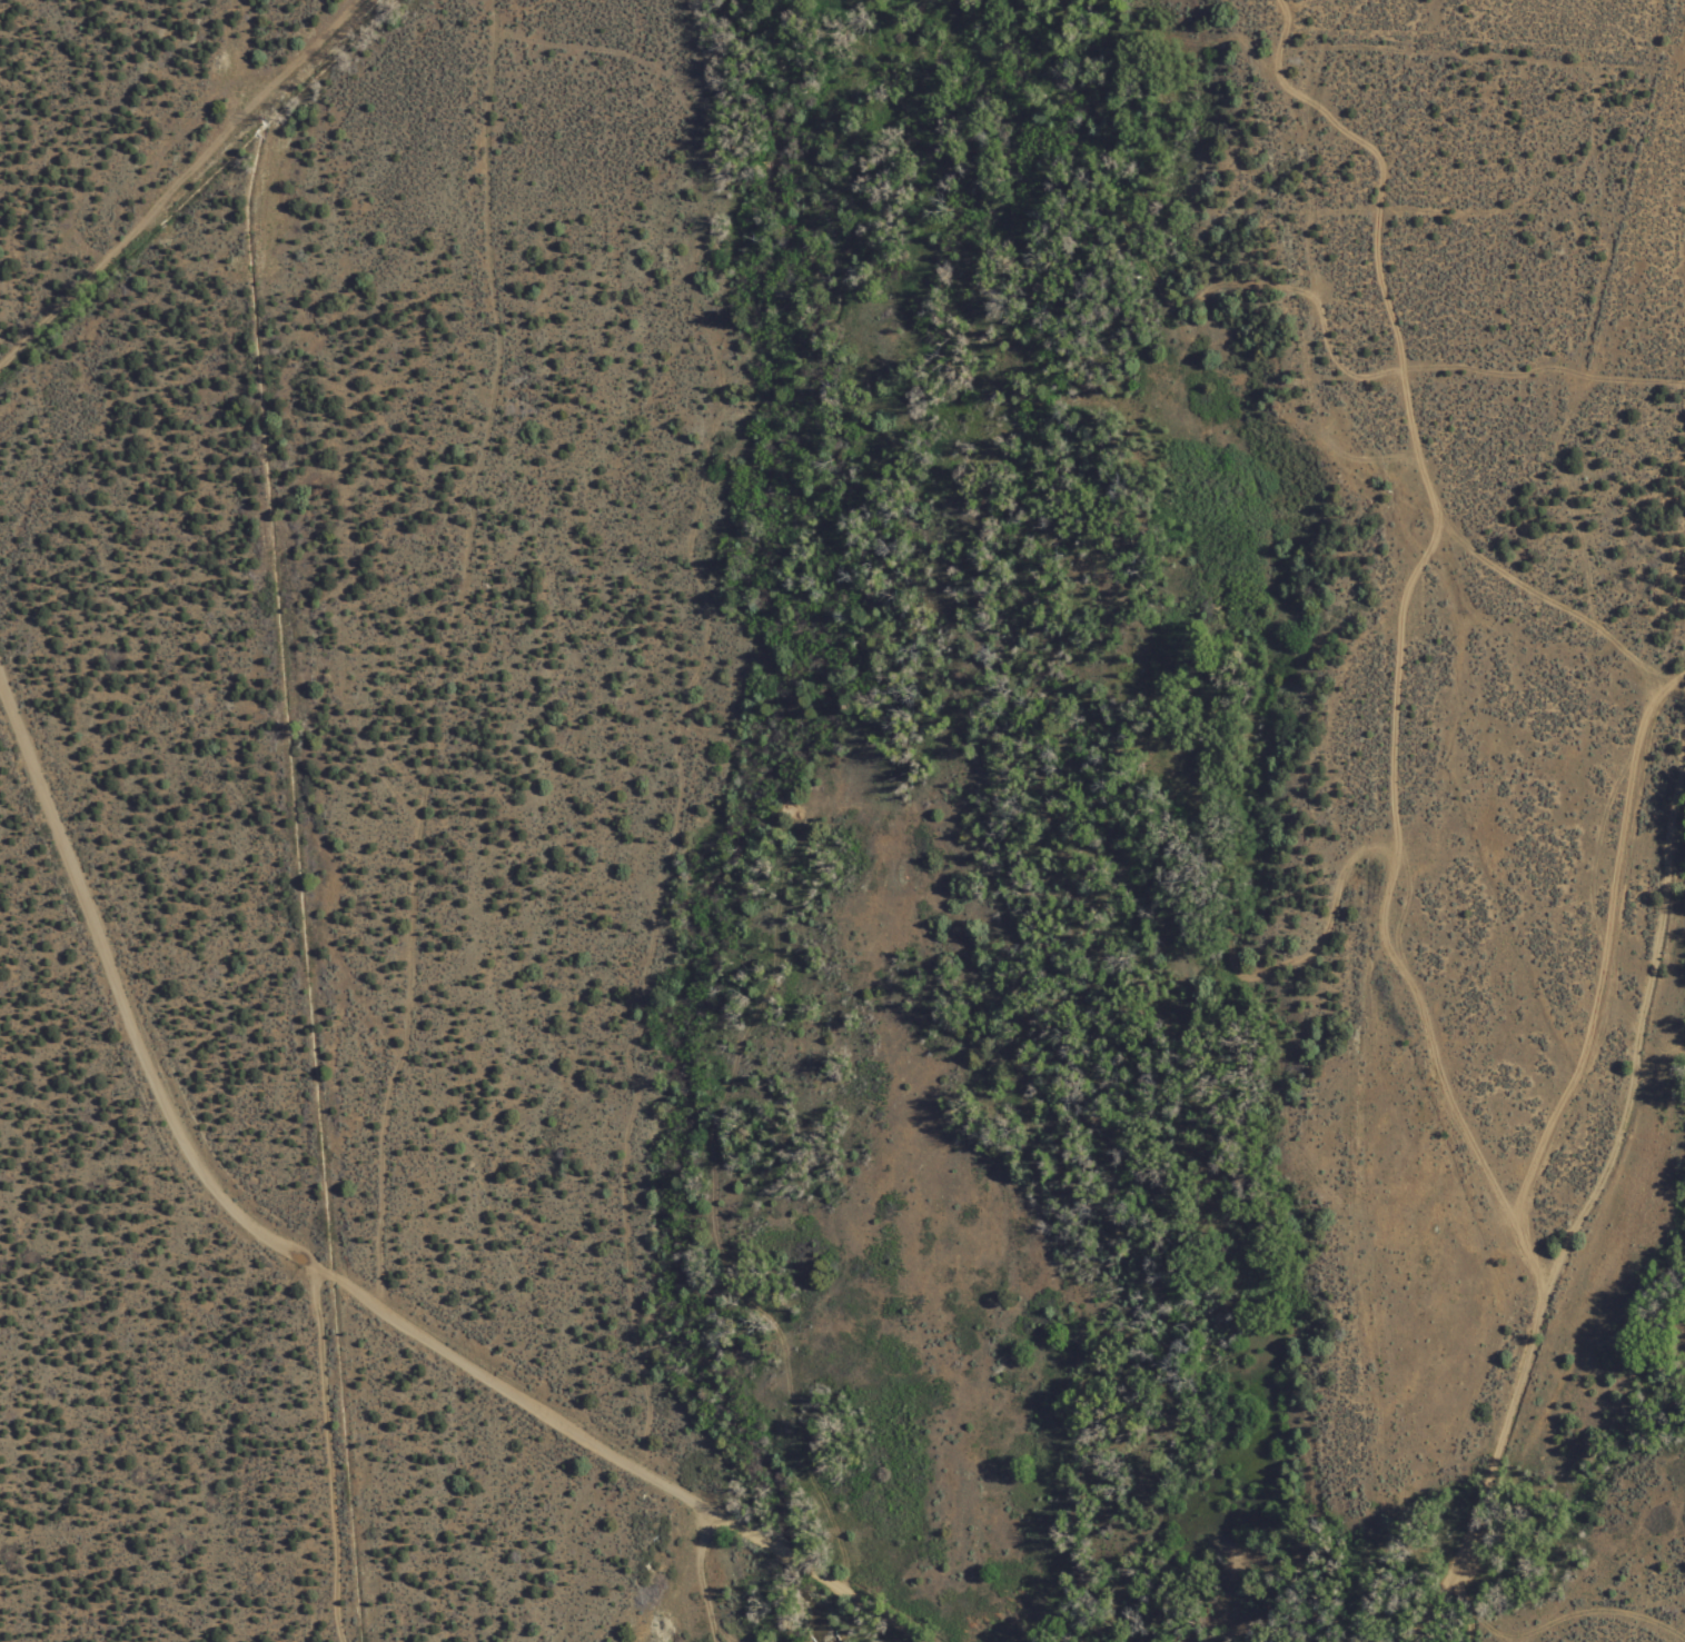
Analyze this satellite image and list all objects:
road: (160, 188)
road: (423, 645)
road: (117, 1061)
road: (1558, 1128)
road: (527, 1194)
road: (1610, 1241)
road: (318, 1288)
road: (627, 1467)

